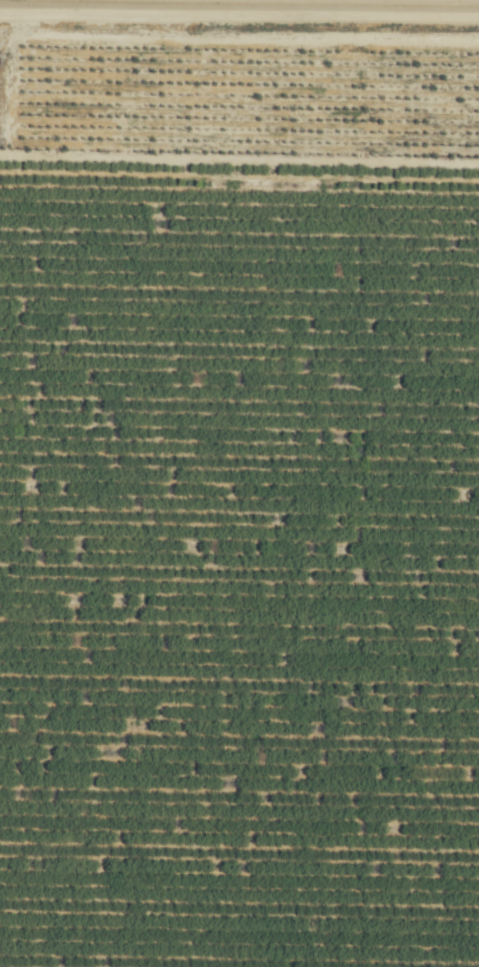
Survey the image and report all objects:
crop: (239, 483)

